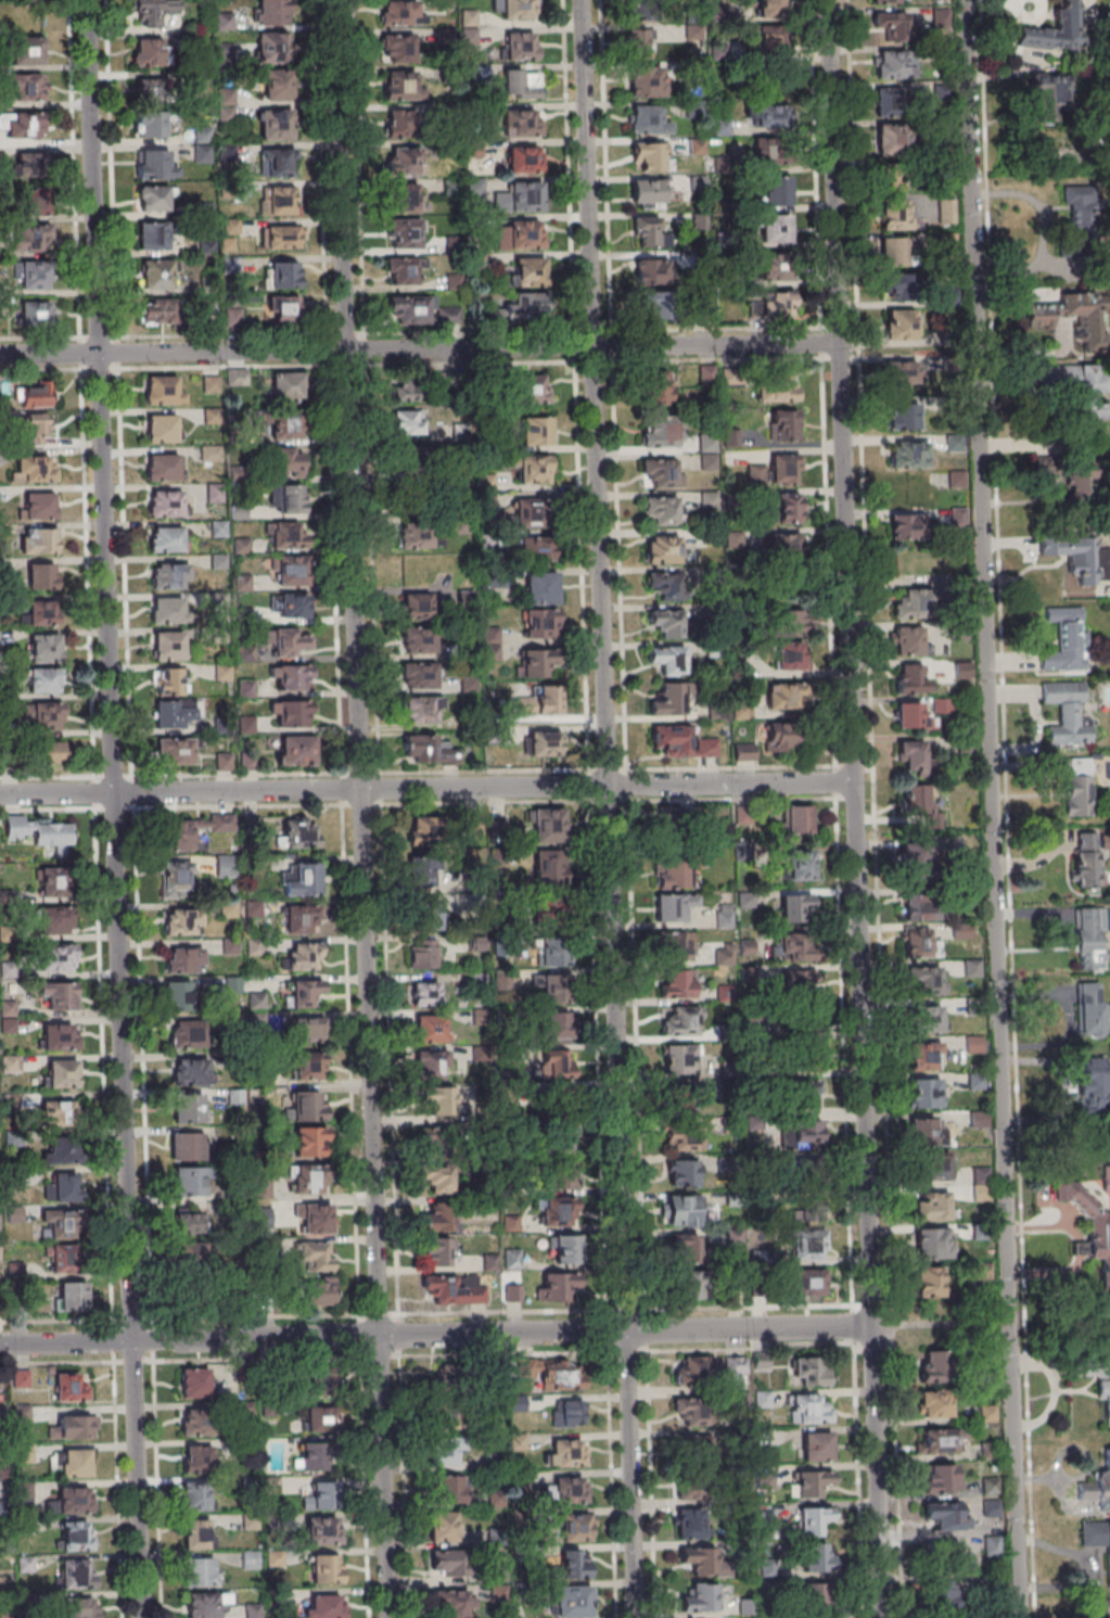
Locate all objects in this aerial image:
building: (891, 1)
building: (771, 8)
building: (518, 9)
building: (154, 12)
building: (272, 12)
building: (398, 13)
building: (647, 18)
building: (895, 25)
building: (1054, 30)
building: (271, 42)
building: (520, 46)
building: (398, 48)
building: (29, 50)
building: (149, 52)
building: (769, 60)
building: (895, 65)
building: (521, 84)
building: (647, 84)
building: (24, 87)
building: (276, 87)
building: (401, 87)
building: (157, 90)
building: (1046, 94)
building: (891, 103)
building: (770, 115)
building: (648, 120)
building: (522, 123)
building: (406, 124)
building: (149, 125)
building: (276, 125)
building: (22, 126)
building: (892, 140)
building: (203, 143)
building: (698, 146)
building: (775, 154)
building: (652, 156)
building: (524, 157)
building: (280, 163)
building: (406, 163)
building: (156, 164)
building: (28, 166)
building: (777, 191)
building: (648, 193)
building: (404, 198)
building: (152, 199)
building: (281, 200)
building: (518, 201)
building: (31, 204)
building: (897, 213)
building: (1077, 218)
building: (776, 229)
building: (649, 232)
road: (1044, 233)
building: (409, 234)
building: (520, 234)
building: (153, 235)
building: (281, 237)
building: (30, 238)
building: (895, 251)
building: (775, 267)
building: (405, 270)
building: (531, 270)
building: (651, 271)
building: (156, 275)
building: (283, 275)
building: (35, 277)
building: (455, 280)
building: (898, 286)
building: (656, 305)
building: (532, 307)
building: (773, 307)
building: (1061, 307)
building: (283, 309)
building: (158, 311)
building: (420, 311)
building: (35, 314)
building: (900, 324)
road: (418, 349)
road: (470, 362)
road: (342, 365)
road: (218, 367)
road: (99, 368)
road: (41, 369)
building: (902, 372)
building: (237, 377)
building: (1094, 383)
building: (210, 384)
building: (286, 386)
building: (406, 388)
building: (533, 388)
building: (659, 388)
building: (163, 390)
building: (777, 390)
building: (35, 396)
building: (1097, 412)
building: (903, 417)
building: (407, 422)
building: (787, 424)
building: (283, 426)
building: (36, 428)
building: (162, 428)
building: (536, 431)
building: (661, 431)
building: (707, 453)
building: (210, 454)
building: (909, 455)
building: (417, 458)
building: (289, 460)
building: (163, 467)
building: (33, 468)
building: (535, 469)
building: (774, 471)
building: (663, 473)
building: (1093, 476)
building: (907, 491)
building: (214, 493)
building: (291, 498)
building: (166, 504)
building: (37, 506)
building: (791, 509)
building: (662, 510)
building: (533, 512)
building: (907, 526)
building: (286, 534)
building: (414, 537)
building: (166, 539)
building: (733, 539)
building: (38, 540)
building: (783, 545)
building: (245, 546)
building: (662, 548)
building: (536, 549)
building: (1072, 553)
road: (580, 566)
building: (292, 571)
building: (169, 575)
building: (42, 576)
building: (664, 585)
building: (219, 600)
building: (293, 604)
building: (416, 606)
building: (913, 606)
building: (556, 607)
building: (168, 611)
building: (42, 612)
building: (789, 621)
building: (669, 624)
building: (1064, 639)
building: (418, 640)
building: (291, 641)
building: (908, 641)
building: (167, 646)
building: (44, 648)
building: (246, 652)
building: (791, 658)
building: (667, 659)
building: (535, 663)
building: (962, 670)
building: (418, 675)
building: (292, 676)
building: (911, 678)
building: (44, 680)
building: (168, 681)
building: (784, 696)
building: (668, 700)
building: (548, 701)
building: (422, 710)
building: (1064, 712)
building: (175, 713)
building: (291, 713)
building: (909, 714)
building: (48, 716)
building: (781, 738)
building: (545, 742)
building: (682, 742)
building: (428, 748)
building: (295, 750)
building: (177, 751)
building: (48, 752)
building: (744, 752)
building: (913, 756)
building: (224, 762)
road: (484, 772)
building: (1072, 782)
road: (425, 789)
building: (921, 801)
road: (235, 804)
road: (113, 806)
road: (50, 807)
road: (112, 808)
road: (358, 808)
road: (605, 808)
road: (835, 808)
road: (853, 808)
road: (991, 808)
building: (680, 818)
building: (798, 819)
building: (548, 824)
building: (475, 828)
building: (423, 829)
building: (39, 832)
building: (192, 832)
building: (299, 833)
building: (927, 859)
building: (1083, 862)
building: (801, 864)
building: (547, 865)
building: (675, 870)
building: (421, 872)
building: (176, 880)
building: (299, 880)
building: (49, 882)
building: (674, 906)
building: (798, 907)
building: (923, 907)
building: (426, 914)
building: (724, 916)
building: (301, 919)
building: (55, 922)
building: (182, 922)
building: (1086, 938)
building: (920, 943)
building: (676, 945)
building: (254, 946)
building: (429, 948)
building: (796, 948)
building: (547, 954)
building: (726, 955)
building: (304, 956)
building: (58, 957)
building: (184, 959)
building: (923, 980)
building: (799, 981)
building: (233, 984)
building: (676, 984)
building: (551, 989)
building: (305, 992)
building: (424, 993)
building: (59, 996)
building: (178, 996)
building: (1088, 1011)
building: (678, 1020)
building: (923, 1020)
building: (561, 1025)
building: (311, 1029)
building: (426, 1029)
building: (186, 1035)
building: (59, 1039)
building: (807, 1055)
building: (924, 1056)
road: (349, 1058)
building: (679, 1059)
road: (142, 1061)
building: (563, 1063)
building: (309, 1066)
building: (429, 1067)
building: (189, 1071)
building: (61, 1074)
building: (1092, 1080)
building: (924, 1093)
building: (804, 1095)
building: (438, 1099)
building: (686, 1099)
building: (309, 1105)
building: (188, 1107)
building: (62, 1113)
building: (928, 1132)
building: (804, 1134)
building: (682, 1139)
building: (309, 1142)
building: (186, 1146)
building: (63, 1151)
building: (549, 1156)
building: (934, 1167)
building: (682, 1172)
building: (443, 1175)
building: (310, 1180)
building: (189, 1181)
building: (63, 1187)
building: (933, 1207)
building: (682, 1210)
building: (557, 1211)
building: (808, 1218)
building: (316, 1219)
building: (438, 1221)
building: (189, 1223)
building: (61, 1225)
building: (1089, 1226)
building: (933, 1244)
building: (685, 1248)
building: (809, 1248)
building: (561, 1249)
building: (437, 1251)
building: (316, 1256)
building: (189, 1257)
building: (60, 1259)
building: (929, 1282)
building: (808, 1283)
building: (689, 1285)
building: (442, 1287)
building: (552, 1288)
building: (319, 1290)
building: (71, 1296)
road: (254, 1315)
road: (435, 1336)
building: (934, 1365)
building: (811, 1371)
building: (548, 1373)
building: (457, 1375)
building: (324, 1378)
building: (194, 1383)
building: (71, 1389)
building: (1105, 1397)
building: (692, 1404)
building: (935, 1404)
building: (808, 1409)
building: (571, 1413)
building: (987, 1413)
building: (22, 1414)
building: (445, 1416)
building: (550, 1417)
building: (321, 1418)
building: (199, 1423)
building: (76, 1426)
building: (944, 1440)
building: (817, 1447)
building: (25, 1452)
building: (442, 1452)
building: (565, 1453)
building: (311, 1457)
building: (197, 1460)
building: (72, 1463)
building: (941, 1478)
building: (813, 1483)
building: (990, 1486)
building: (1097, 1486)
building: (447, 1489)
building: (690, 1489)
building: (571, 1490)
building: (196, 1496)
building: (317, 1496)
building: (75, 1499)
building: (991, 1508)
building: (946, 1516)
building: (814, 1520)
building: (690, 1523)
building: (444, 1526)
building: (574, 1528)
building: (323, 1532)
building: (197, 1533)
building: (77, 1536)
building: (1097, 1542)
building: (992, 1545)
building: (818, 1556)
building: (949, 1557)
building: (251, 1559)
building: (699, 1559)
building: (449, 1563)
building: (567, 1567)
building: (327, 1568)
building: (201, 1572)
building: (77, 1574)
building: (816, 1594)
building: (946, 1594)
building: (701, 1598)
building: (455, 1603)
building: (573, 1603)
building: (205, 1604)
building: (324, 1606)
building: (81, 1607)
building: (1105, 1608)

